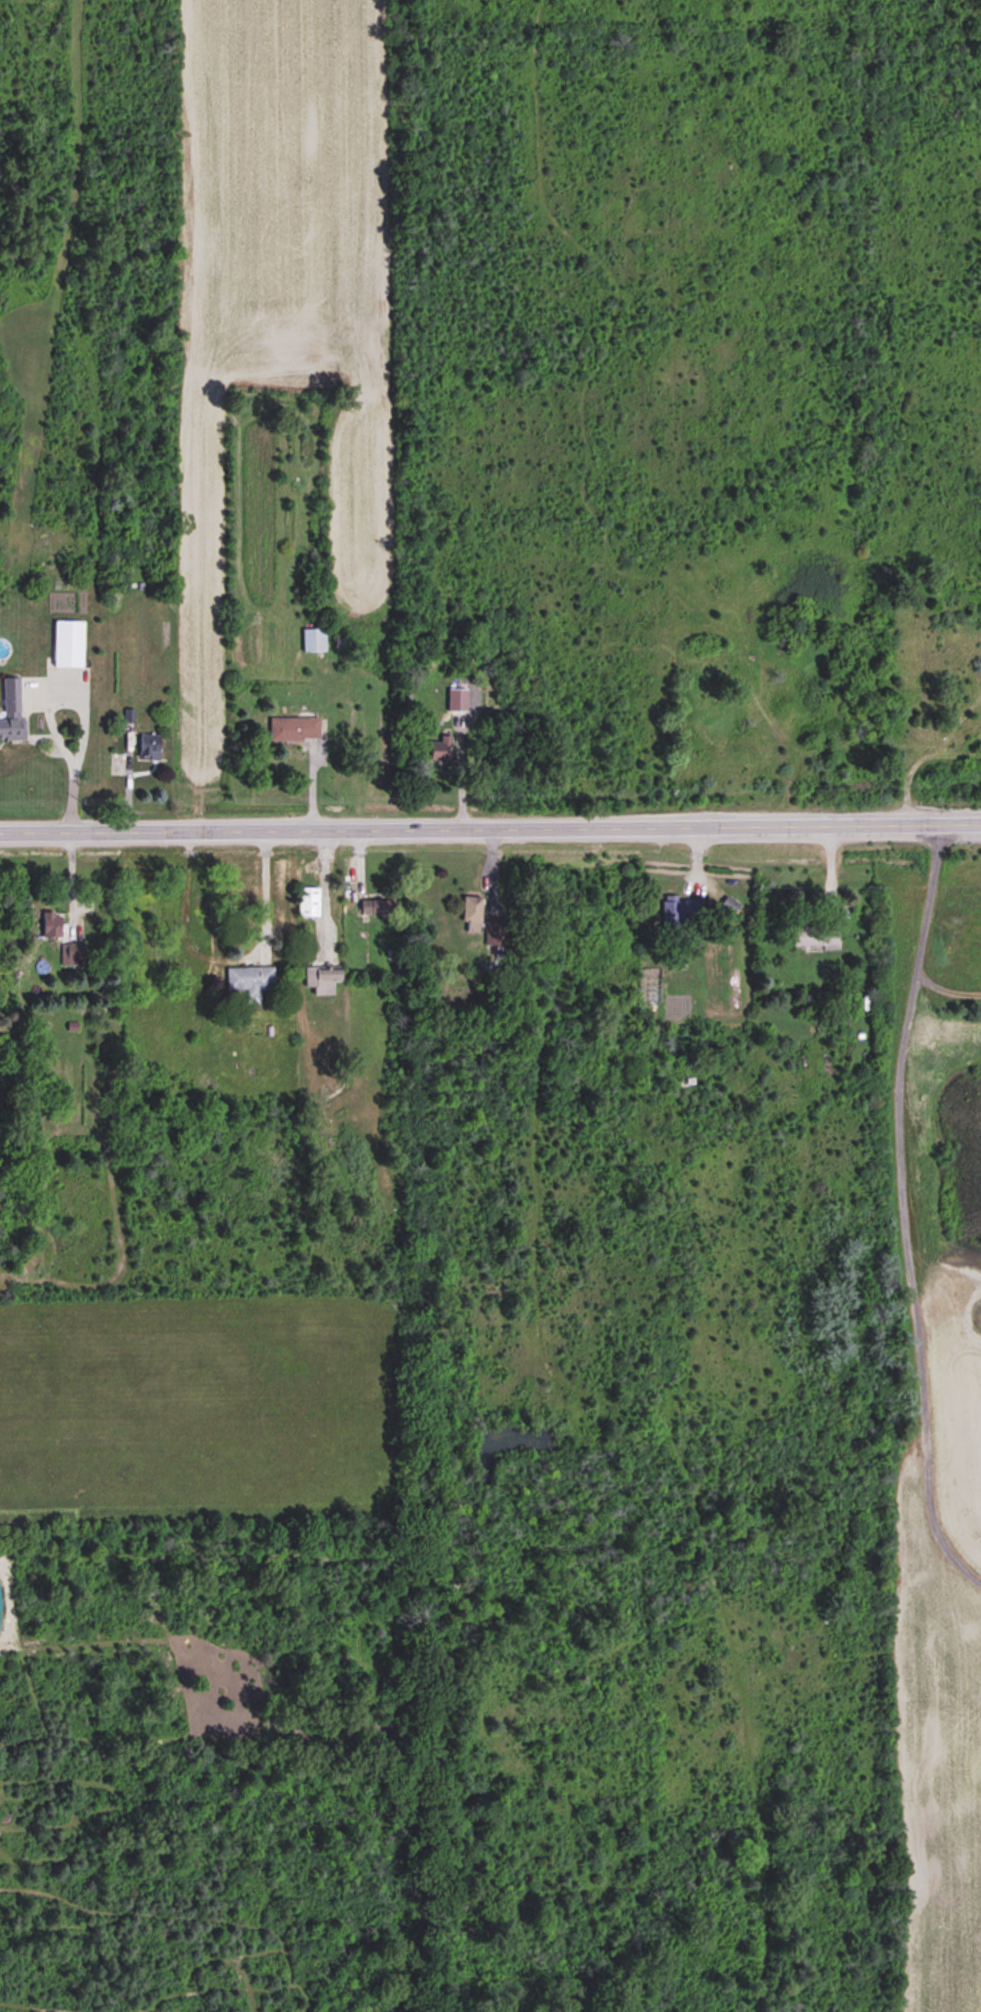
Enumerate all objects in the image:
building: (313, 641)
building: (68, 645)
building: (457, 700)
building: (11, 712)
road: (81, 718)
building: (294, 730)
building: (148, 746)
building: (440, 750)
road: (458, 771)
road: (490, 827)
road: (323, 891)
road: (264, 892)
building: (308, 903)
building: (375, 909)
building: (680, 913)
building: (472, 914)
building: (52, 926)
building: (494, 934)
building: (816, 938)
building: (73, 954)
building: (251, 979)
building: (322, 980)

